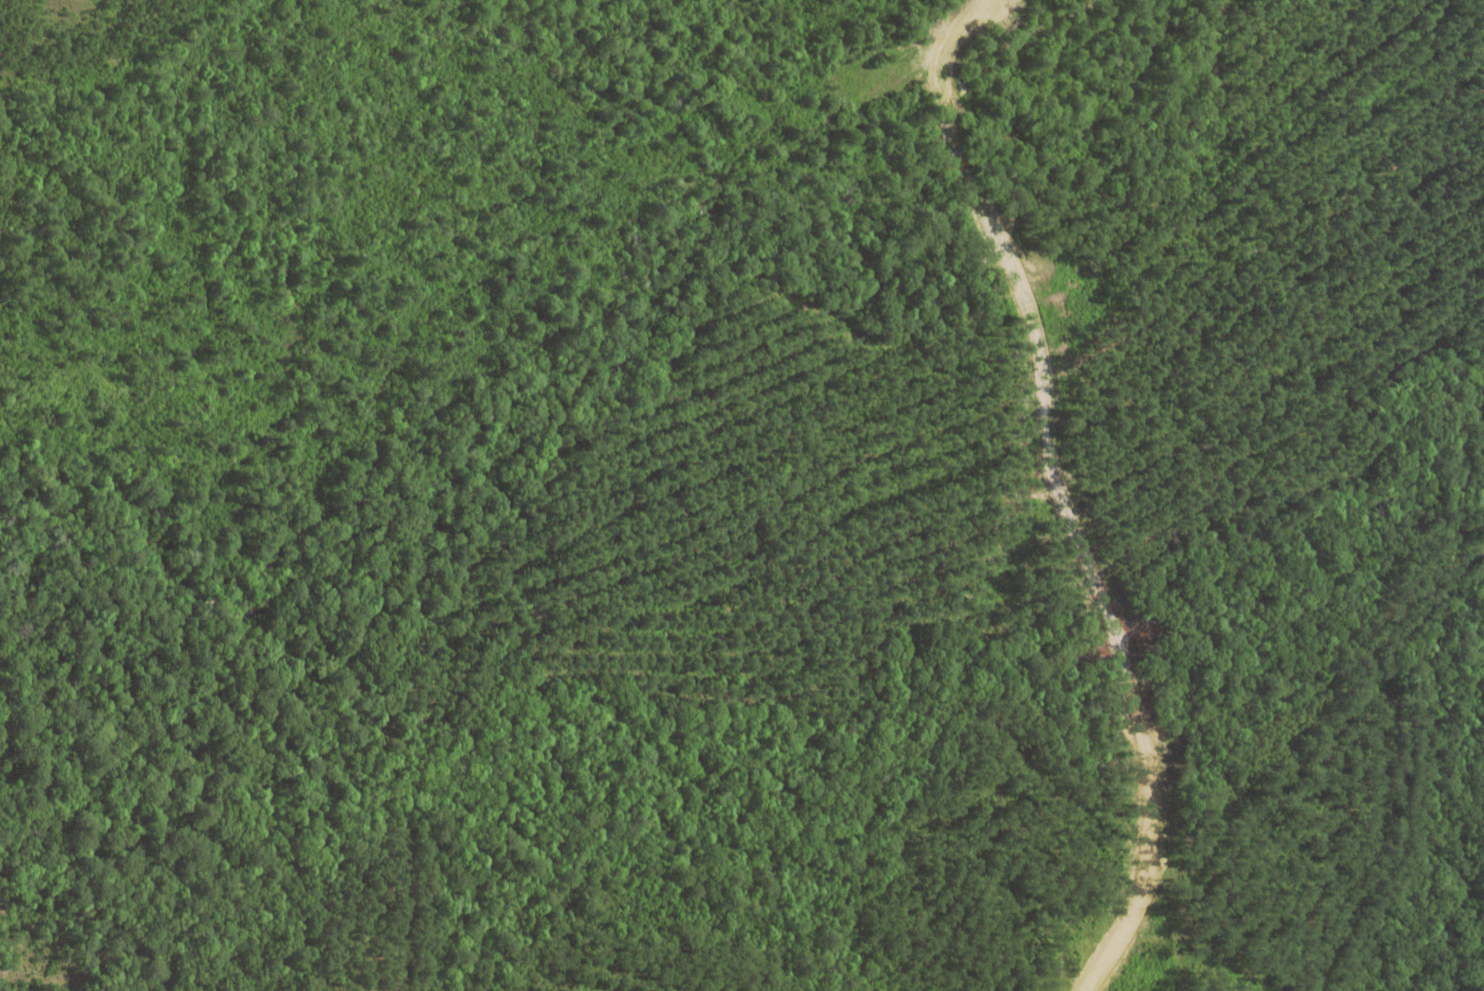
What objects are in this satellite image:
road: (972, 1)

